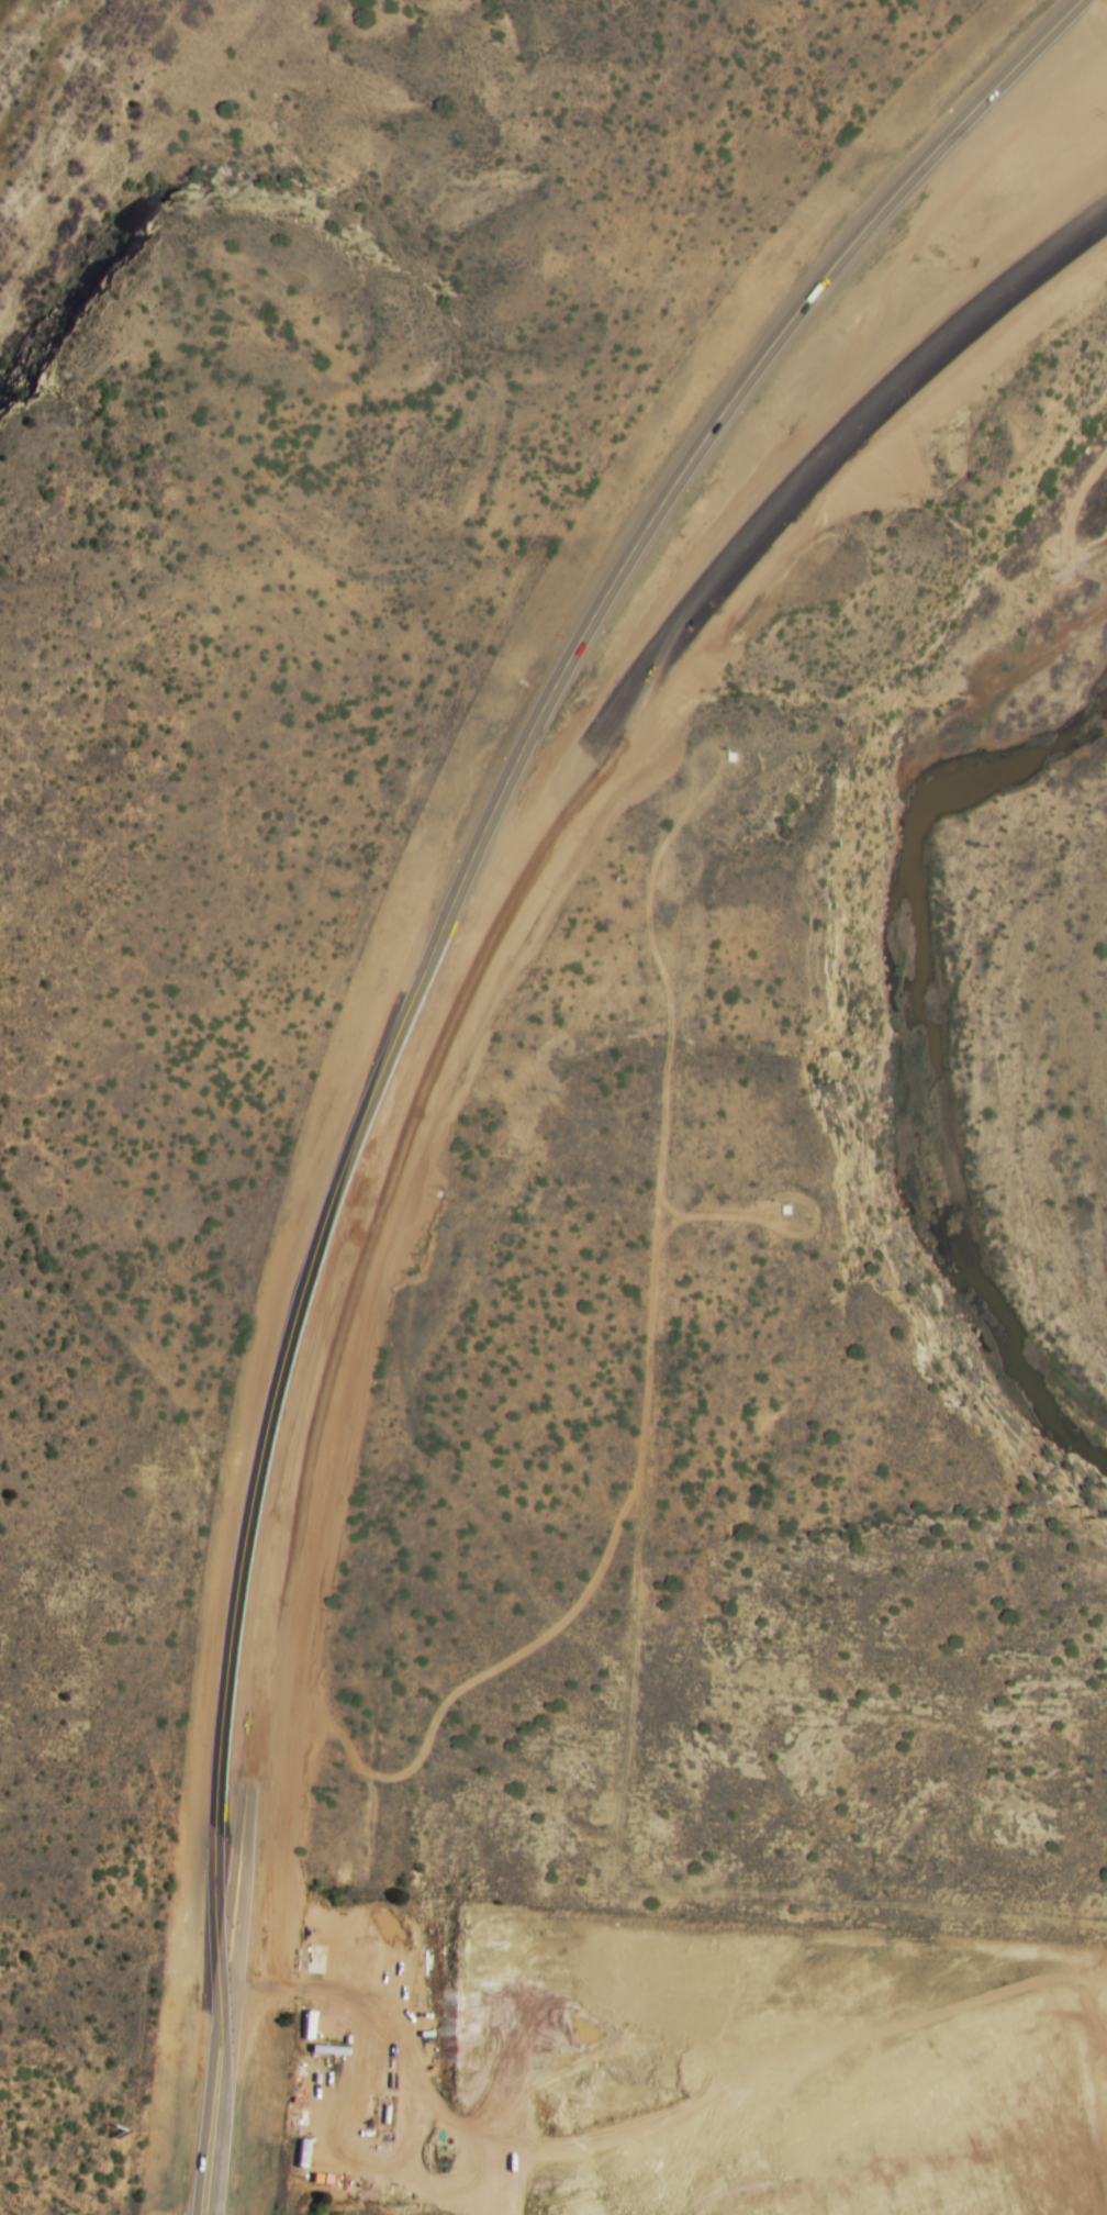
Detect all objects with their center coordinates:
road: (762, 549)
road: (425, 1011)
river: (913, 1022)

